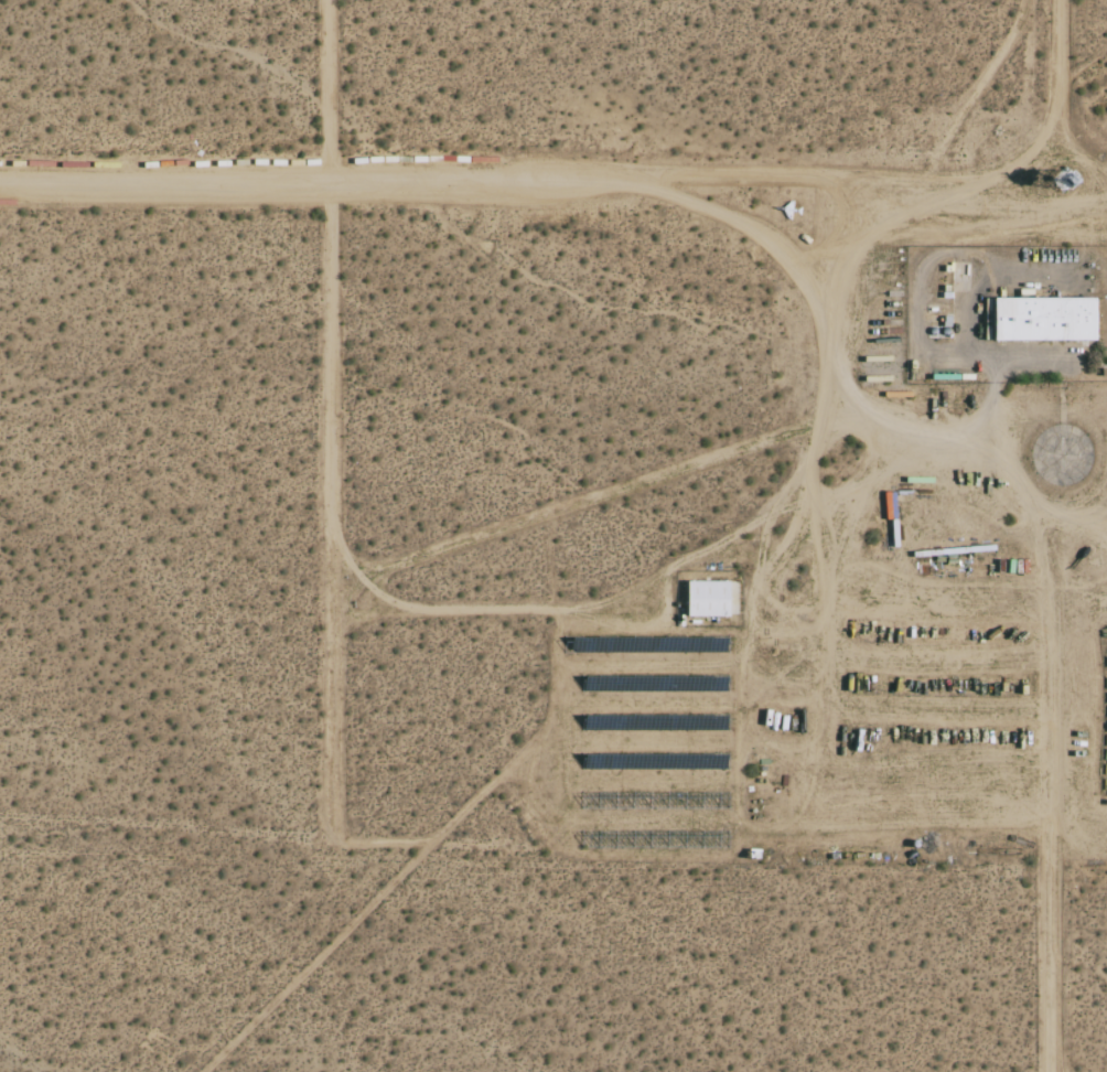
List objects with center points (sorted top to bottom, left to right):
road: (1047, 137)
road: (1083, 142)
road: (1106, 162)
road: (558, 171)
building: (1040, 318)
helipad: (1061, 453)
road: (341, 468)
road: (580, 500)
road: (1038, 512)
road: (659, 575)
building: (709, 598)
road: (452, 604)
building: (678, 644)
building: (653, 683)
building: (669, 721)
building: (652, 761)

